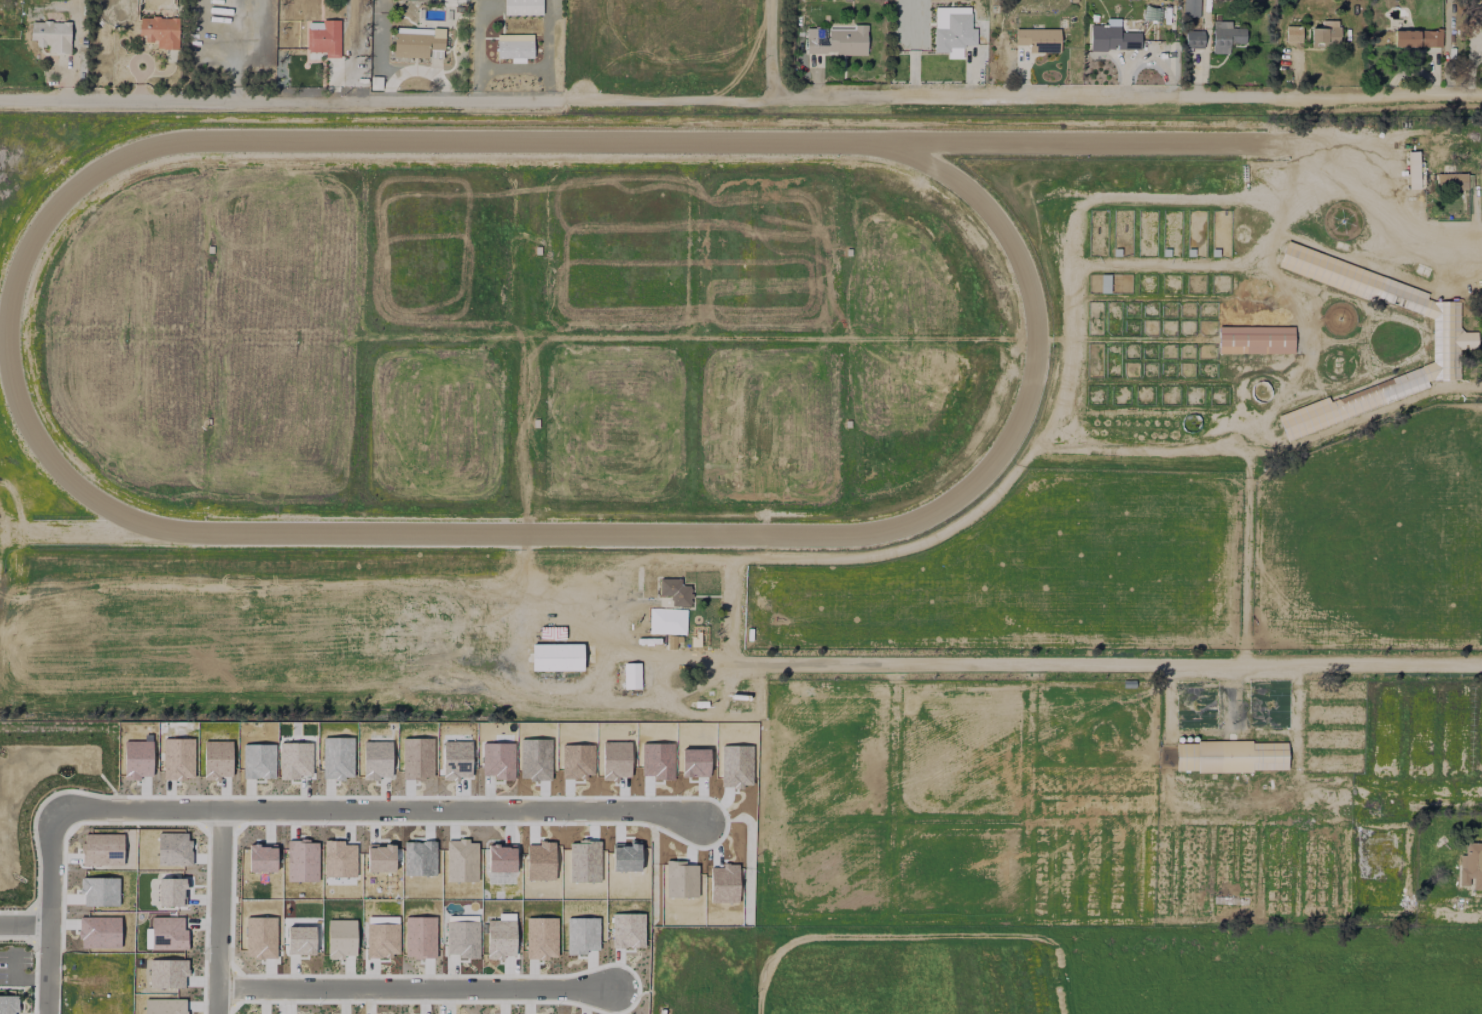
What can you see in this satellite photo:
building: (522, 7)
building: (1190, 8)
building: (1150, 13)
building: (159, 31)
building: (1290, 33)
building: (1325, 34)
building: (51, 35)
building: (1113, 36)
building: (1225, 36)
building: (323, 37)
building: (1193, 38)
building: (1405, 38)
building: (1431, 38)
building: (1038, 39)
building: (836, 40)
building: (416, 41)
building: (514, 46)
road: (74, 51)
road: (771, 55)
road: (741, 109)
building: (1412, 169)
building: (1451, 180)
building: (1480, 181)
road: (1391, 212)
building: (1255, 339)
building: (675, 591)
road: (1117, 652)
building: (556, 656)
road: (376, 691)
building: (1230, 756)
road: (1309, 787)
road: (78, 804)
road: (353, 812)
building: (1471, 866)
road: (48, 945)
road: (406, 986)
building: (8, 1004)

